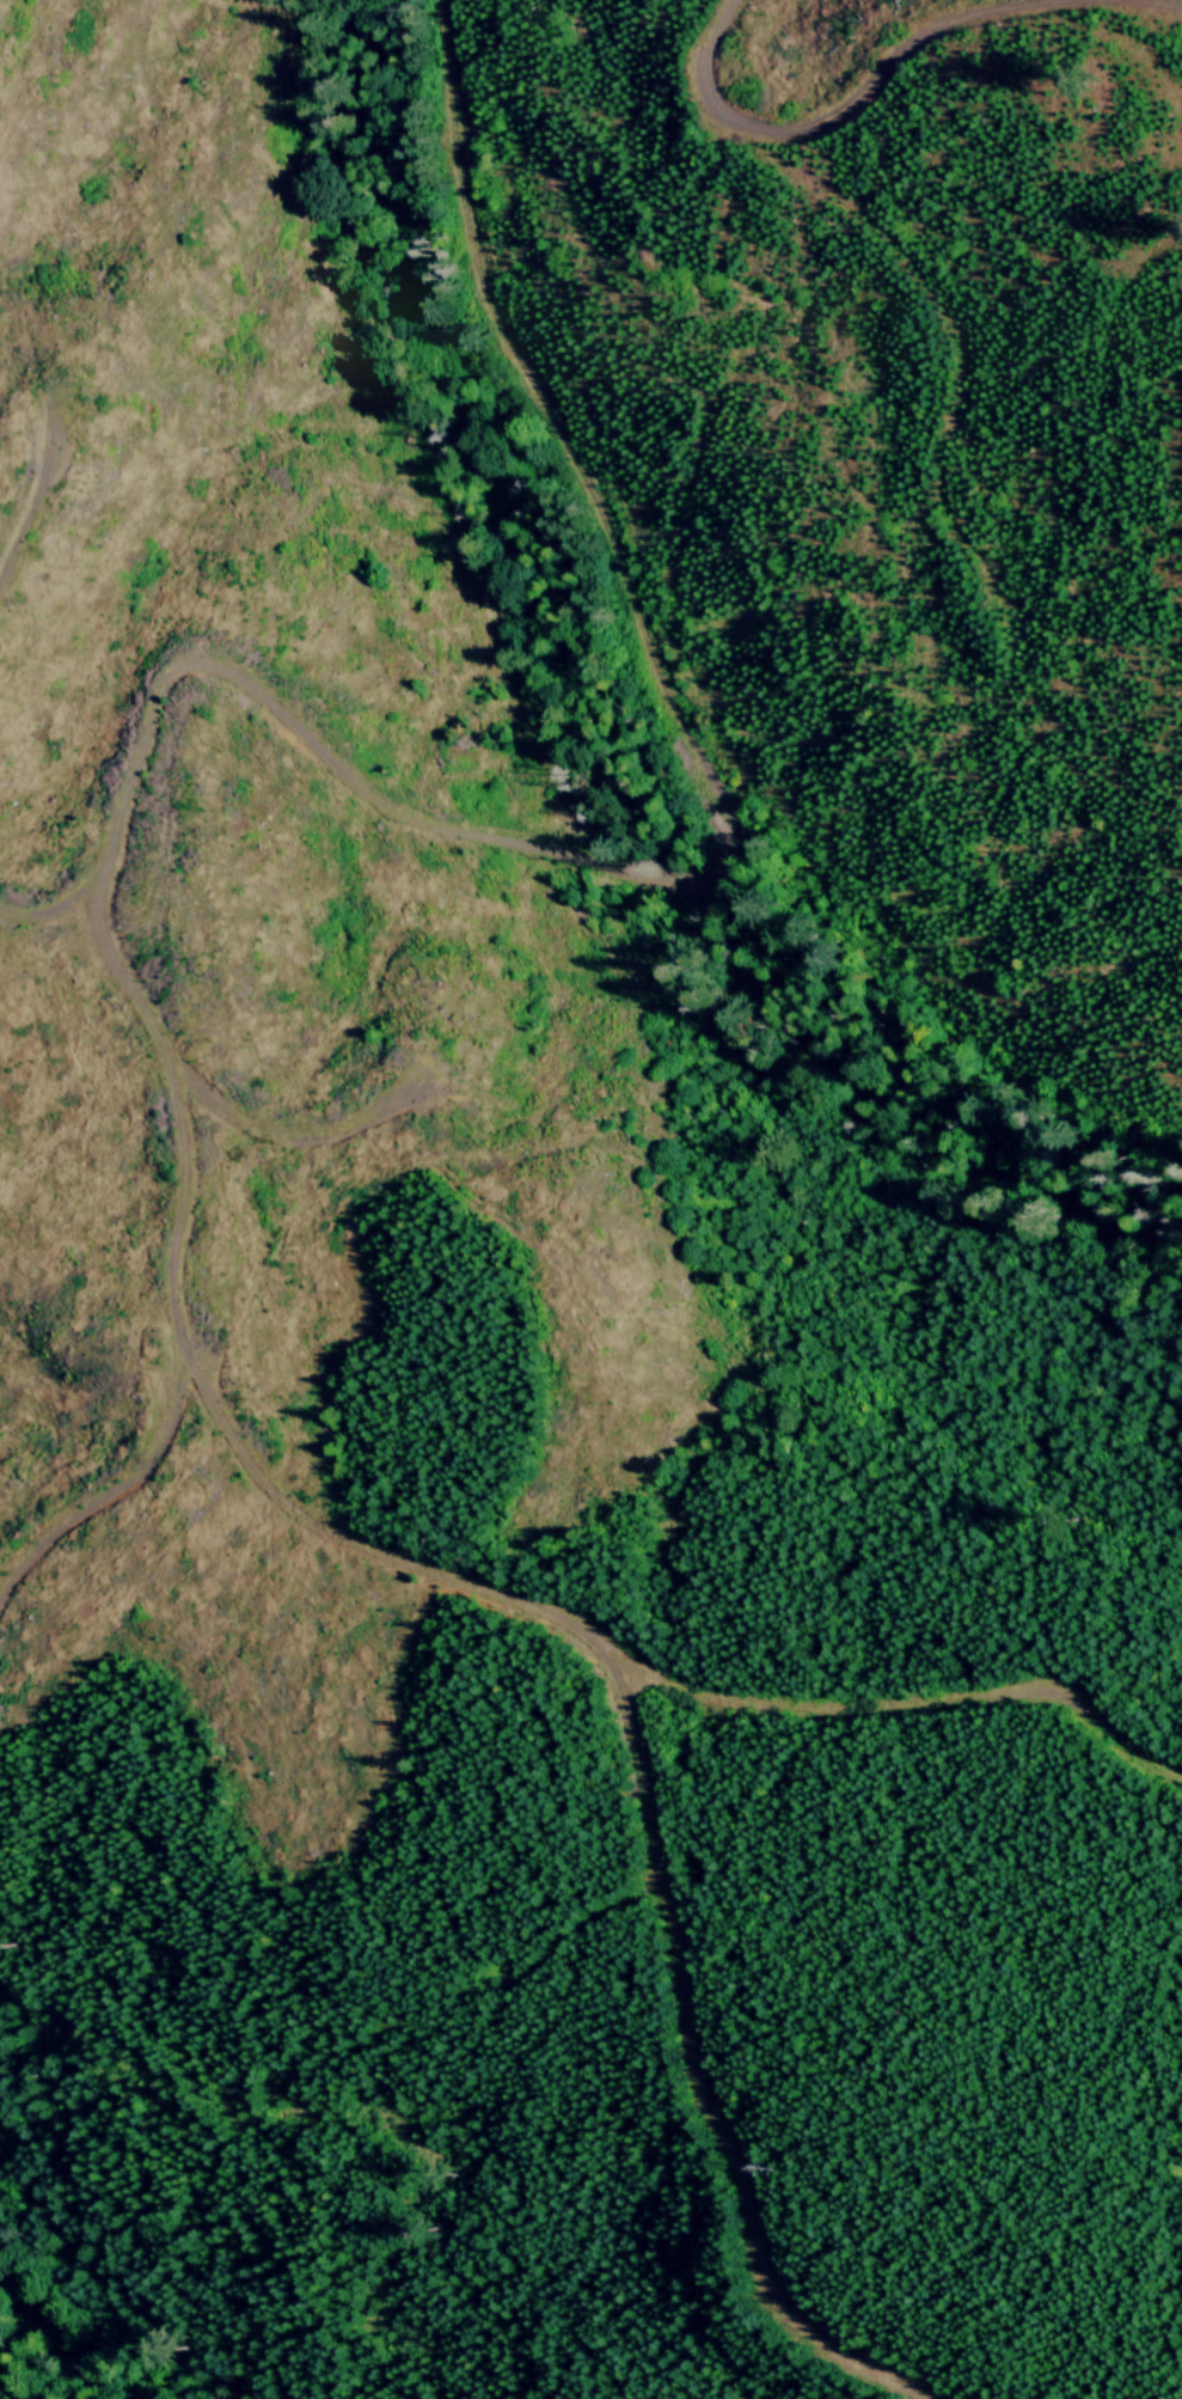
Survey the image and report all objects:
road: (801, 118)
road: (577, 427)
road: (163, 2265)

